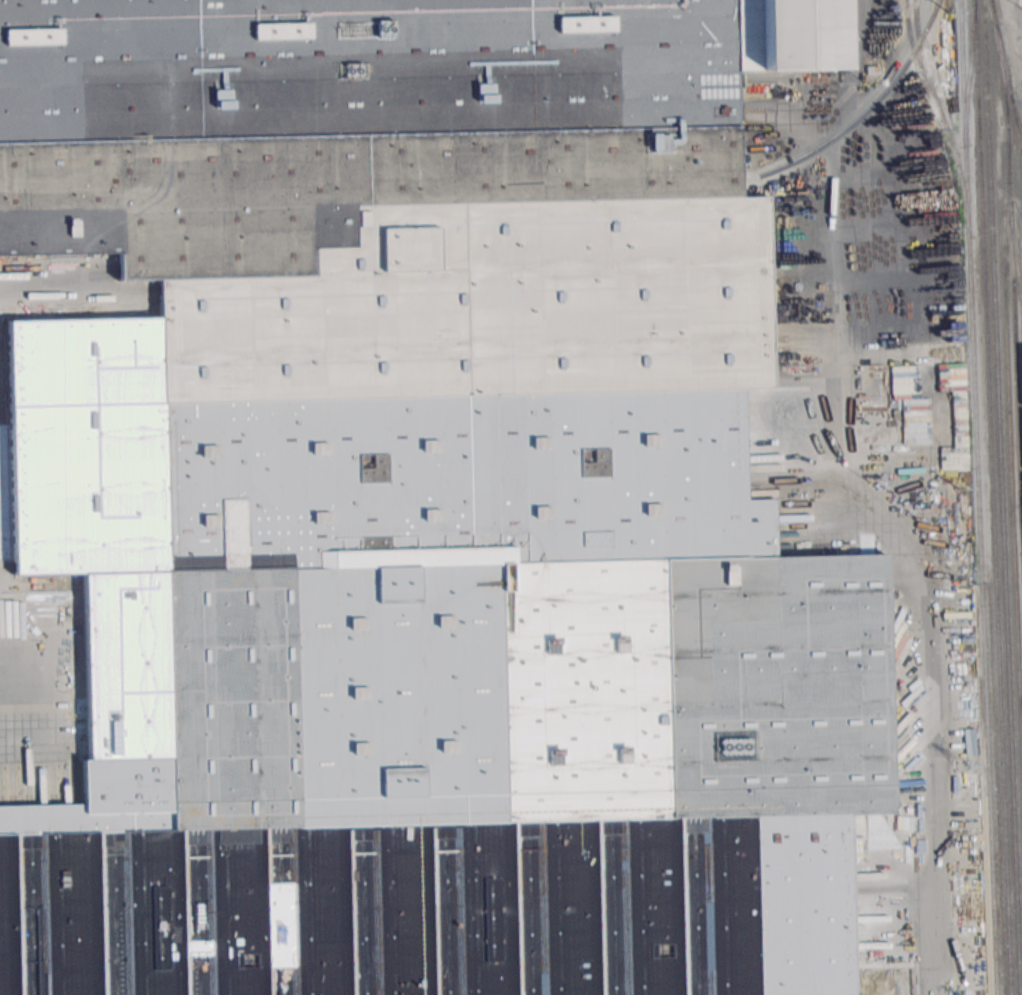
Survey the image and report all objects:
power tower: (950, 14)
railway: (922, 58)
railway: (968, 67)
railway: (1006, 74)
railway: (937, 107)
railway: (861, 116)
railway: (1018, 125)
railway: (1009, 179)
power tower: (953, 227)
building: (390, 279)
railway: (1017, 377)
railway: (1012, 487)
power tower: (958, 489)
railway: (978, 497)
railway: (992, 497)
railway: (1001, 497)
road: (921, 587)
power tower: (965, 767)
building: (461, 782)

